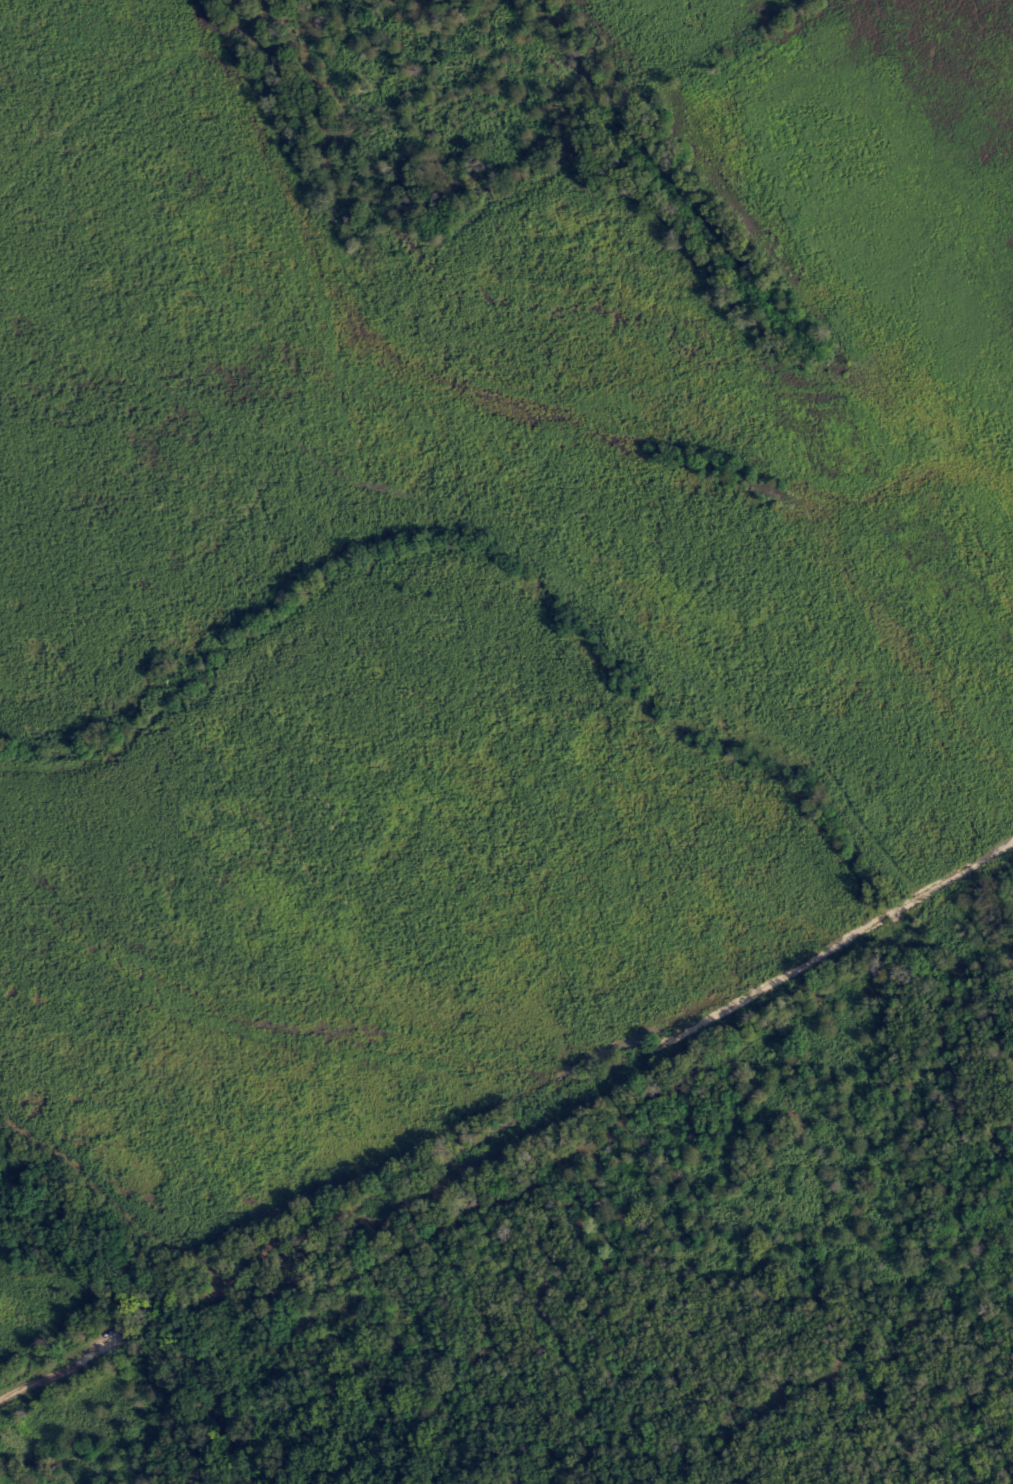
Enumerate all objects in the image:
road: (615, 1063)
road: (106, 1339)
road: (408, 1420)

